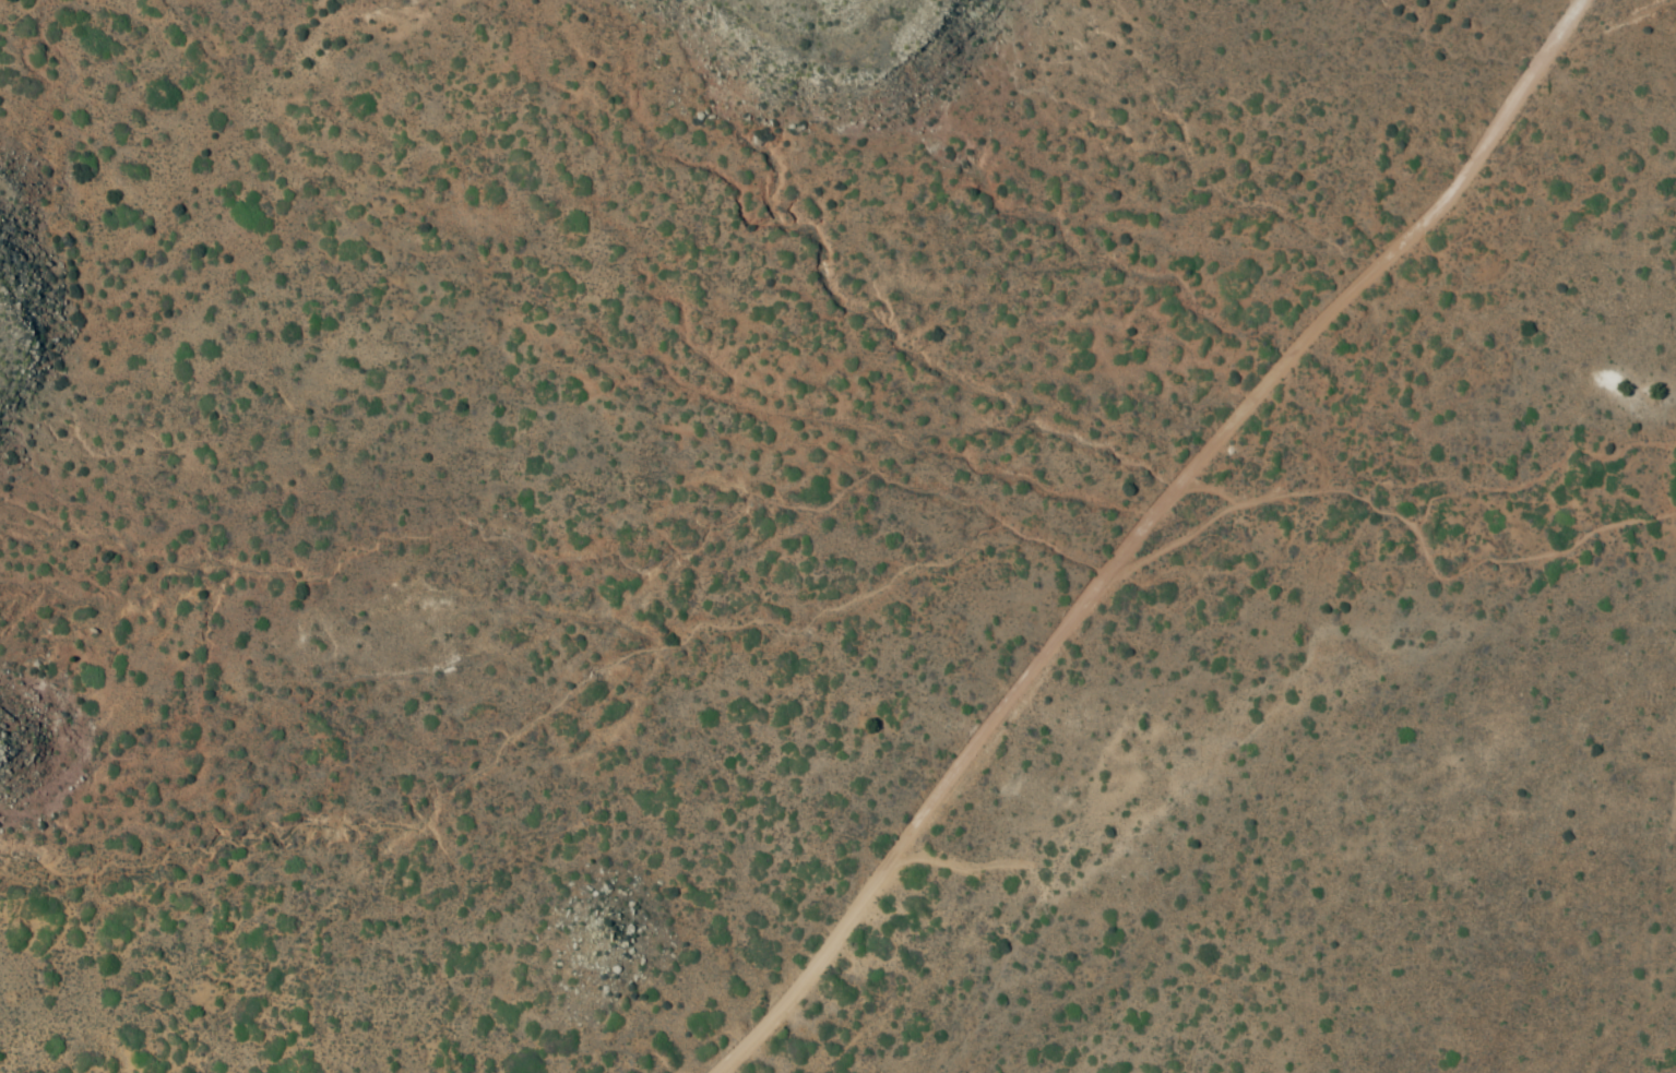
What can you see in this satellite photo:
road: (1143, 530)

